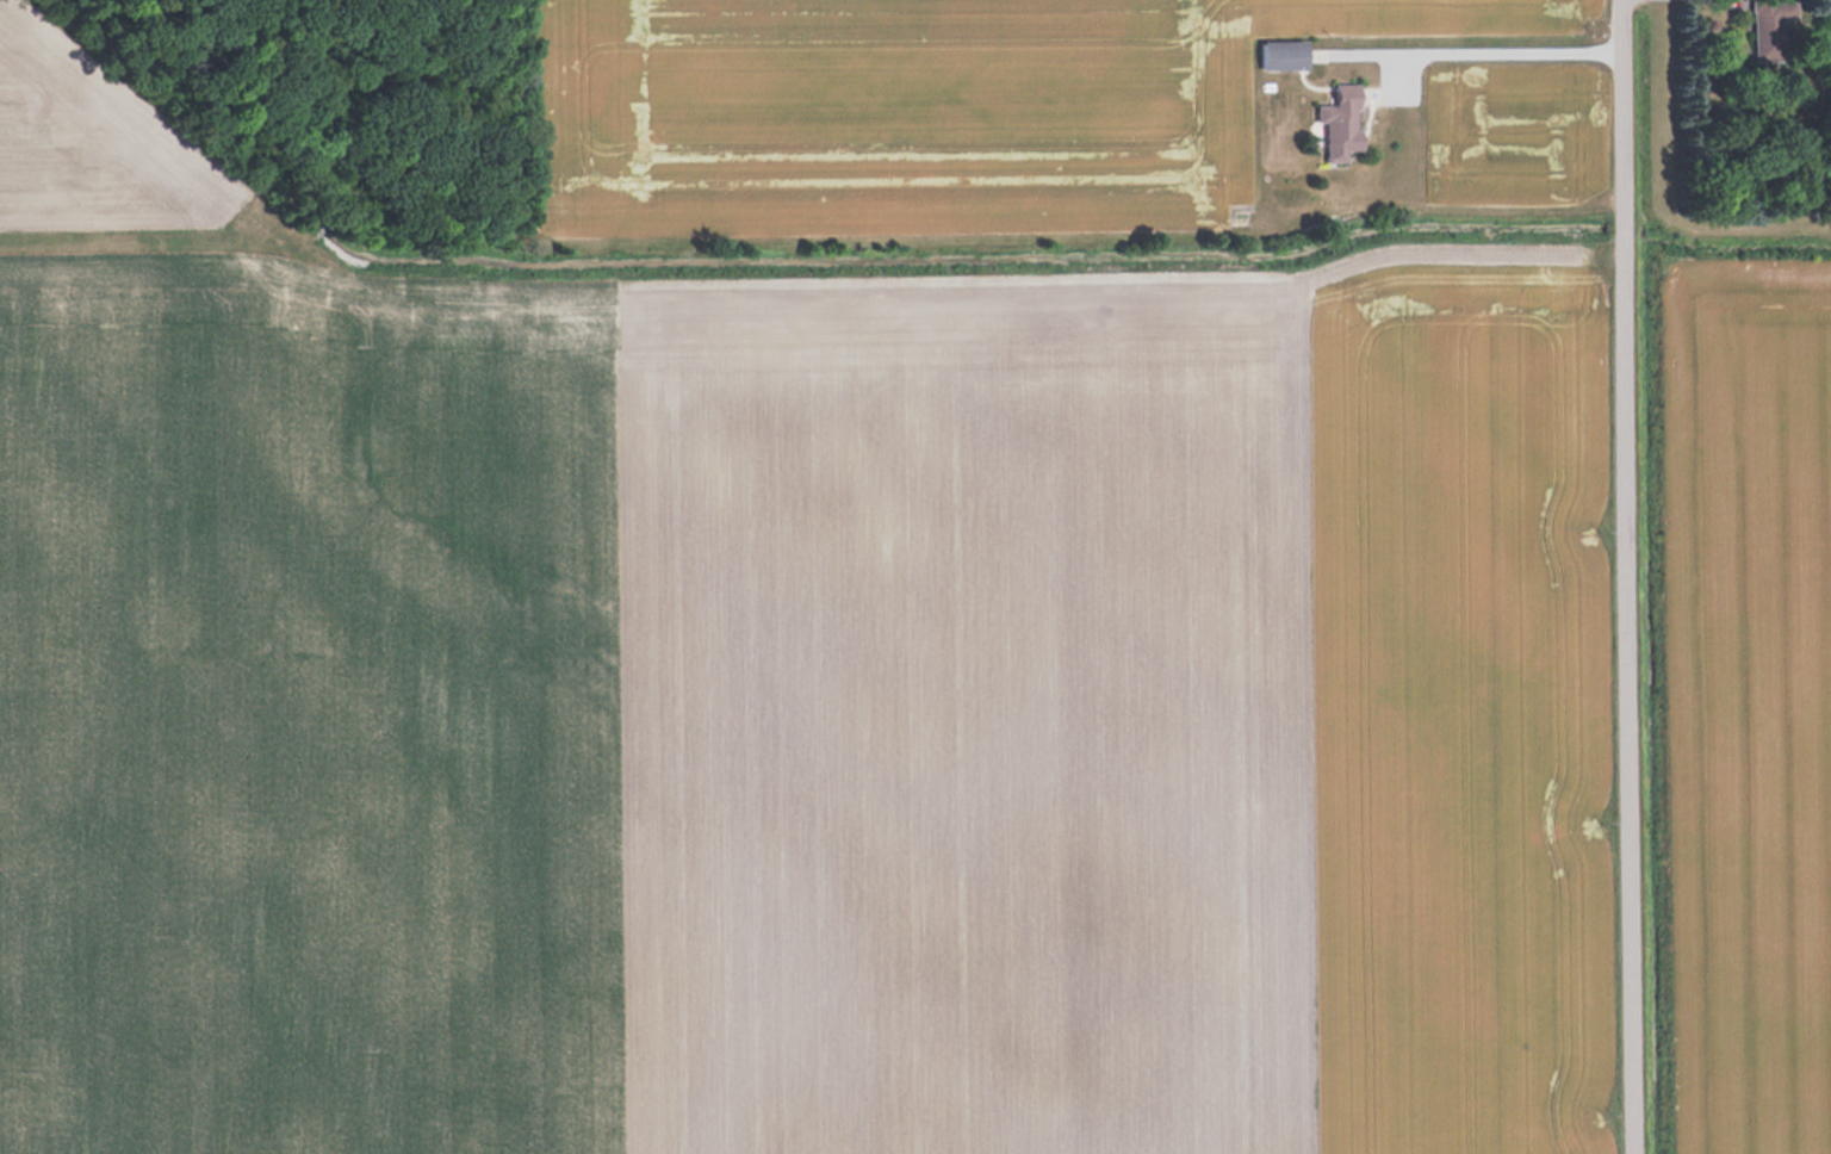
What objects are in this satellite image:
building: (1764, 29)
road: (1490, 52)
building: (1283, 56)
building: (1339, 124)
road: (1628, 577)

